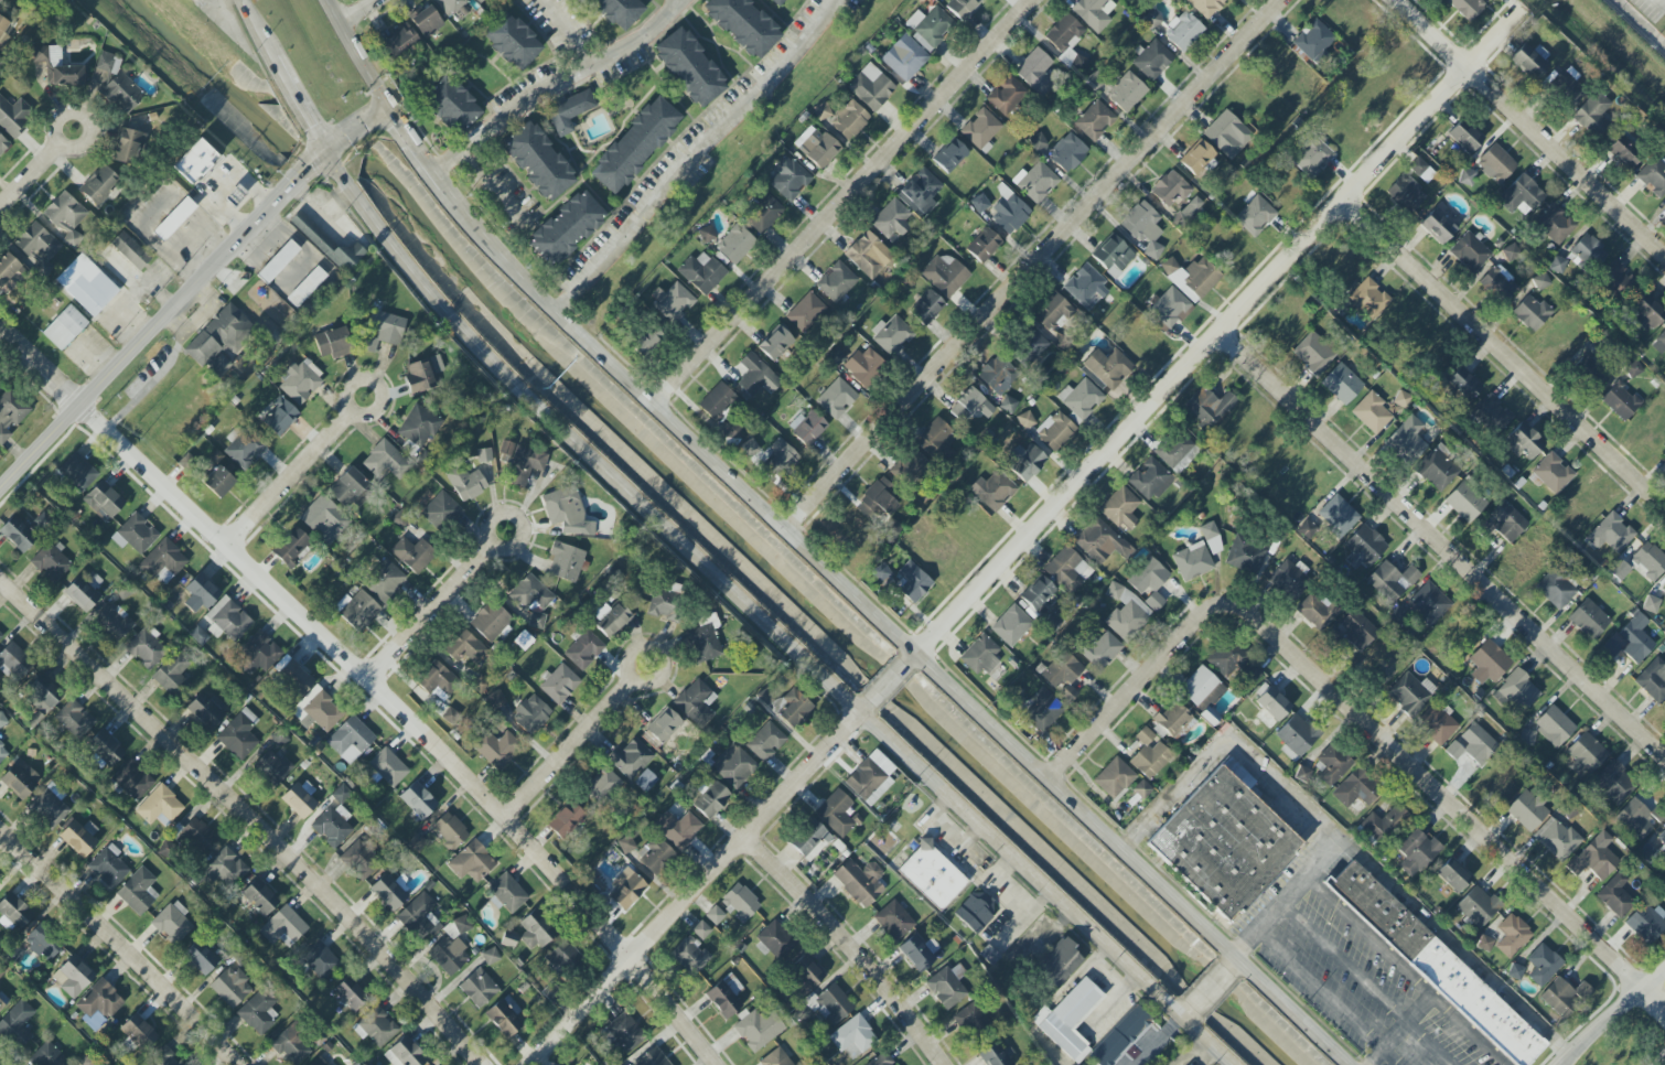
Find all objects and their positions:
building: (2, 0)
building: (477, 1)
building: (778, 2)
road: (1661, 2)
road: (1664, 4)
building: (449, 6)
building: (1206, 7)
building: (964, 8)
building: (1467, 8)
road: (353, 11)
building: (619, 11)
building: (1093, 13)
building: (1151, 19)
building: (427, 22)
building: (743, 24)
road: (1639, 24)
building: (930, 26)
building: (3, 29)
building: (1183, 31)
road: (261, 33)
road: (568, 34)
building: (1064, 36)
building: (399, 39)
building: (512, 41)
building: (1314, 42)
road: (354, 54)
building: (904, 57)
building: (1152, 60)
building: (105, 62)
building: (1529, 62)
building: (57, 67)
building: (689, 67)
building: (1035, 72)
road: (558, 86)
building: (870, 87)
building: (1564, 90)
building: (1126, 92)
building: (121, 94)
building: (1007, 95)
building: (453, 105)
traffic signals: (385, 108)
road: (302, 109)
building: (569, 111)
building: (1592, 114)
building: (13, 117)
building: (844, 118)
road: (80, 119)
building: (1094, 120)
building: (980, 128)
road: (1528, 129)
building: (1227, 135)
building: (1464, 137)
building: (1036, 142)
building: (2, 146)
building: (127, 146)
building: (634, 146)
road: (415, 147)
building: (818, 149)
traffic signals: (326, 151)
building: (1067, 152)
building: (1622, 152)
road: (695, 155)
building: (949, 155)
building: (1311, 157)
building: (1196, 158)
building: (195, 161)
building: (538, 161)
building: (1495, 164)
building: (1417, 166)
road: (30, 175)
building: (1465, 176)
building: (1653, 176)
building: (788, 179)
building: (1035, 182)
building: (99, 185)
building: (1170, 189)
building: (920, 192)
building: (1406, 193)
building: (1519, 195)
road: (841, 202)
building: (979, 203)
building: (1664, 206)
building: (1188, 212)
building: (65, 213)
building: (763, 214)
building: (1009, 215)
building: (1255, 216)
building: (173, 218)
building: (891, 219)
building: (1554, 225)
building: (1437, 226)
building: (567, 228)
building: (1143, 228)
building: (706, 234)
building: (327, 244)
building: (734, 244)
building: (982, 245)
building: (36, 248)
building: (130, 250)
building: (1588, 251)
building: (1470, 252)
building: (1511, 252)
building: (868, 254)
building: (1113, 256)
building: (277, 261)
road: (1030, 263)
building: (1556, 265)
building: (701, 272)
building: (8, 275)
building: (944, 276)
building: (1191, 277)
building: (1540, 281)
building: (1613, 281)
building: (836, 282)
building: (86, 284)
building: (1496, 284)
building: (1084, 286)
building: (305, 287)
road: (187, 292)
building: (1368, 299)
building: (672, 301)
building: (926, 308)
building: (1170, 308)
building: (805, 312)
building: (1053, 312)
building: (1532, 313)
building: (1645, 313)
road: (195, 318)
building: (64, 327)
building: (385, 332)
road: (1216, 333)
building: (892, 336)
building: (647, 340)
building: (219, 341)
building: (332, 343)
building: (775, 343)
building: (1658, 343)
building: (1028, 347)
building: (1313, 353)
road: (1502, 355)
building: (864, 366)
building: (1108, 367)
building: (1633, 368)
building: (1591, 372)
building: (997, 374)
building: (756, 376)
building: (420, 377)
road: (150, 381)
building: (300, 381)
road: (375, 384)
building: (1342, 384)
building: (1463, 384)
building: (836, 398)
building: (1079, 399)
building: (1620, 401)
building: (717, 404)
building: (970, 406)
building: (1206, 407)
building: (11, 413)
building: (1372, 413)
building: (1492, 415)
building: (278, 416)
building: (1025, 420)
building: (807, 427)
building: (417, 429)
building: (733, 431)
building: (1055, 432)
building: (935, 438)
building: (1406, 440)
building: (1523, 442)
building: (244, 447)
building: (1178, 452)
building: (770, 456)
building: (1664, 456)
building: (385, 461)
building: (522, 462)
building: (1028, 463)
building: (907, 467)
building: (77, 472)
building: (1553, 473)
road: (290, 477)
building: (1149, 480)
building: (218, 482)
building: (466, 483)
building: (350, 490)
building: (992, 491)
building: (103, 501)
building: (1465, 501)
building: (876, 502)
building: (1120, 507)
building: (441, 512)
building: (567, 512)
building: (1338, 516)
road: (518, 517)
building: (324, 519)
building: (1506, 520)
building: (1307, 529)
building: (18, 531)
building: (135, 534)
building: (1610, 534)
building: (1211, 538)
building: (1100, 541)
road: (1441, 542)
building: (1364, 547)
building: (291, 548)
building: (412, 555)
building: (1245, 556)
building: (1525, 559)
building: (1648, 560)
building: (163, 561)
building: (565, 561)
building: (1192, 561)
building: (51, 562)
building: (1067, 570)
building: (1619, 570)
building: (881, 572)
building: (1289, 580)
building: (384, 581)
building: (1149, 581)
building: (1390, 581)
building: (912, 582)
building: (1555, 589)
building: (1664, 589)
building: (201, 593)
building: (530, 593)
building: (1038, 593)
building: (1429, 603)
building: (1651, 604)
building: (665, 606)
building: (357, 610)
road: (430, 612)
building: (1317, 612)
building: (1126, 613)
building: (229, 618)
building: (1589, 618)
building: (536, 620)
road: (766, 620)
building: (490, 621)
building: (612, 621)
building: (112, 622)
building: (1011, 625)
building: (1357, 630)
road: (892, 631)
building: (0, 637)
building: (1630, 641)
building: (702, 644)
building: (463, 646)
building: (146, 648)
building: (262, 649)
building: (583, 649)
building: (1102, 650)
road: (656, 652)
building: (980, 655)
building: (14, 661)
building: (1379, 661)
building: (1489, 664)
building: (1061, 669)
building: (172, 671)
building: (292, 675)
building: (436, 679)
building: (1653, 680)
road: (370, 681)
building: (559, 684)
road: (889, 684)
building: (1201, 689)
building: (1068, 692)
building: (43, 693)
building: (1408, 695)
building: (495, 699)
building: (1270, 701)
building: (695, 703)
building: (795, 708)
building: (207, 710)
building: (318, 710)
building: (1042, 710)
building: (530, 713)
road: (1354, 716)
building: (75, 719)
building: (1173, 719)
building: (1437, 725)
building: (1554, 725)
building: (660, 728)
building: (238, 736)
building: (1296, 736)
building: (351, 740)
building: (765, 742)
building: (1470, 745)
building: (495, 747)
building: (104, 750)
road: (570, 750)
building: (2, 753)
building: (1586, 753)
building: (1149, 754)
building: (630, 759)
building: (1332, 764)
building: (733, 766)
building: (272, 767)
building: (388, 767)
building: (1302, 774)
building: (870, 777)
building: (1114, 778)
building: (19, 779)
building: (132, 781)
building: (1613, 783)
building: (600, 786)
building: (1141, 789)
building: (1355, 789)
building: (300, 799)
building: (711, 800)
building: (417, 802)
building: (49, 807)
building: (160, 807)
building: (1526, 809)
building: (836, 814)
road: (246, 816)
building: (1634, 818)
building: (565, 822)
building: (1382, 822)
building: (331, 825)
building: (678, 828)
building: (449, 831)
building: (197, 836)
building: (79, 837)
building: (807, 837)
building: (1556, 838)
building: (1662, 838)
road: (1342, 840)
building: (1223, 843)
building: (1414, 852)
building: (654, 856)
building: (359, 860)
building: (1593, 860)
building: (471, 862)
building: (108, 867)
building: (225, 868)
building: (932, 875)
building: (1452, 875)
building: (0, 881)
building: (859, 881)
road: (699, 884)
building: (138, 891)
building: (388, 892)
building: (627, 892)
building: (506, 893)
building: (1615, 895)
building: (259, 897)
road: (1290, 899)
building: (740, 903)
building: (1478, 906)
building: (976, 911)
building: (12, 913)
building: (715, 915)
building: (419, 917)
building: (893, 921)
building: (172, 923)
building: (1645, 923)
building: (286, 925)
building: (461, 925)
building: (701, 929)
building: (535, 930)
building: (1512, 935)
building: (776, 939)
building: (42, 943)
road: (119, 946)
road: (848, 947)
building: (919, 953)
building: (449, 954)
building: (490, 956)
building: (689, 956)
building: (201, 957)
building: (561, 958)
building: (320, 960)
building: (1059, 962)
road: (1233, 964)
building: (1543, 965)
building: (1436, 966)
road: (1344, 967)
building: (1516, 971)
building: (806, 972)
building: (0, 973)
road: (1404, 973)
building: (73, 976)
building: (230, 987)
building: (479, 988)
road: (1210, 989)
building: (551, 990)
building: (350, 993)
building: (724, 996)
building: (1564, 997)
building: (99, 1000)
road: (1328, 1000)
building: (3, 1001)
building: (826, 1005)
building: (258, 1011)
road: (1188, 1012)
road: (1419, 1012)
road: (1611, 1015)
building: (504, 1019)
building: (970, 1019)
building: (1068, 1019)
building: (17, 1024)
building: (375, 1026)
building: (759, 1029)
building: (138, 1033)
building: (622, 1033)
building: (852, 1036)
building: (1120, 1036)
road: (1158, 1040)
road: (1387, 1044)
road: (1428, 1045)
building: (290, 1047)
building: (405, 1053)
building: (49, 1055)
building: (996, 1055)
building: (163, 1057)
building: (652, 1058)
building: (775, 1058)
building: (881, 1059)
building: (319, 1062)
road: (1663, 1062)
building: (557, 1064)

